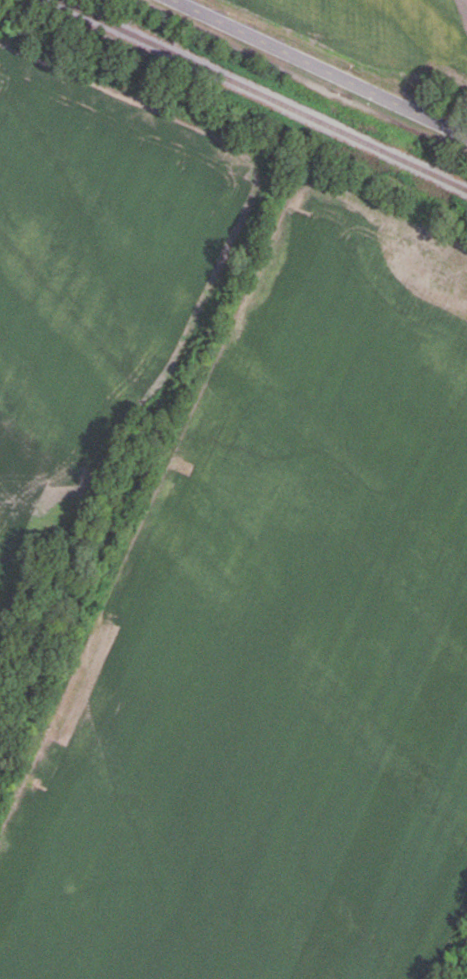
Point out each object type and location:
road: (320, 68)
railway: (263, 93)

